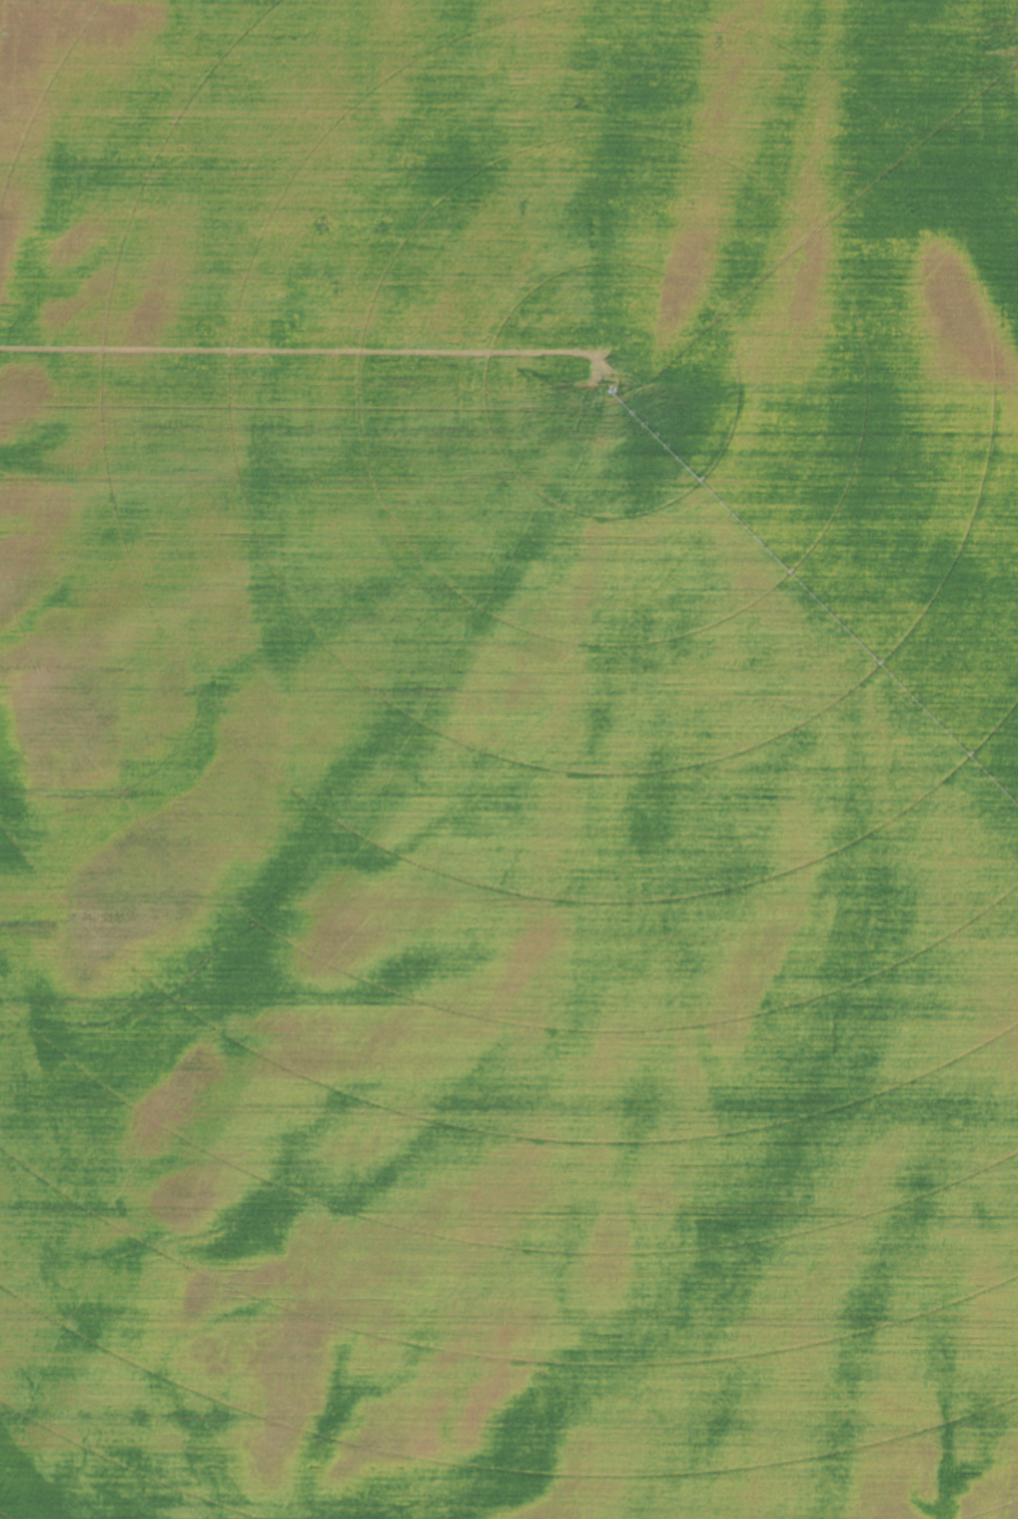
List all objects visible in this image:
crop: (509, 759)

